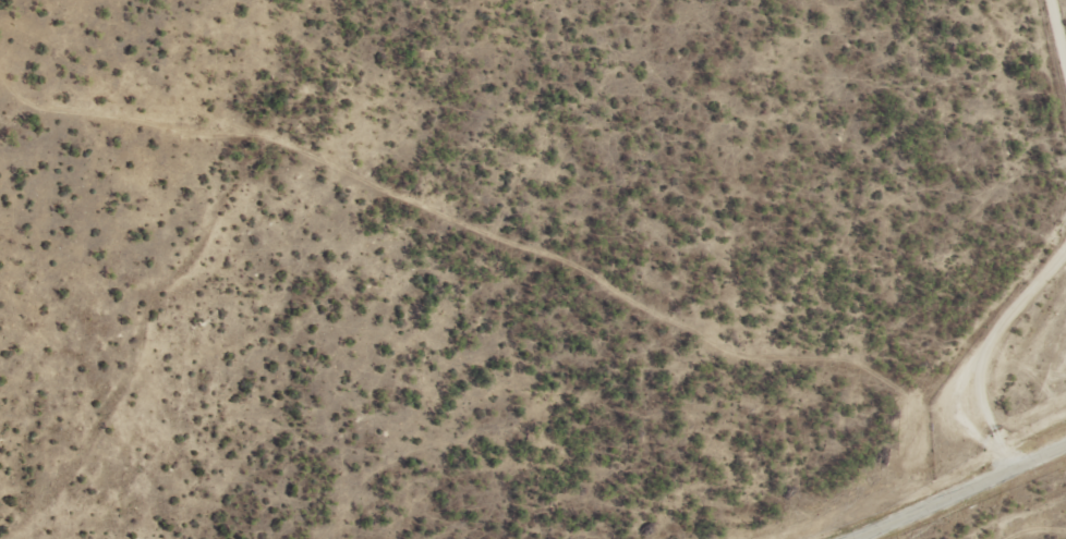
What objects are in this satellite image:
road: (1030, 485)

